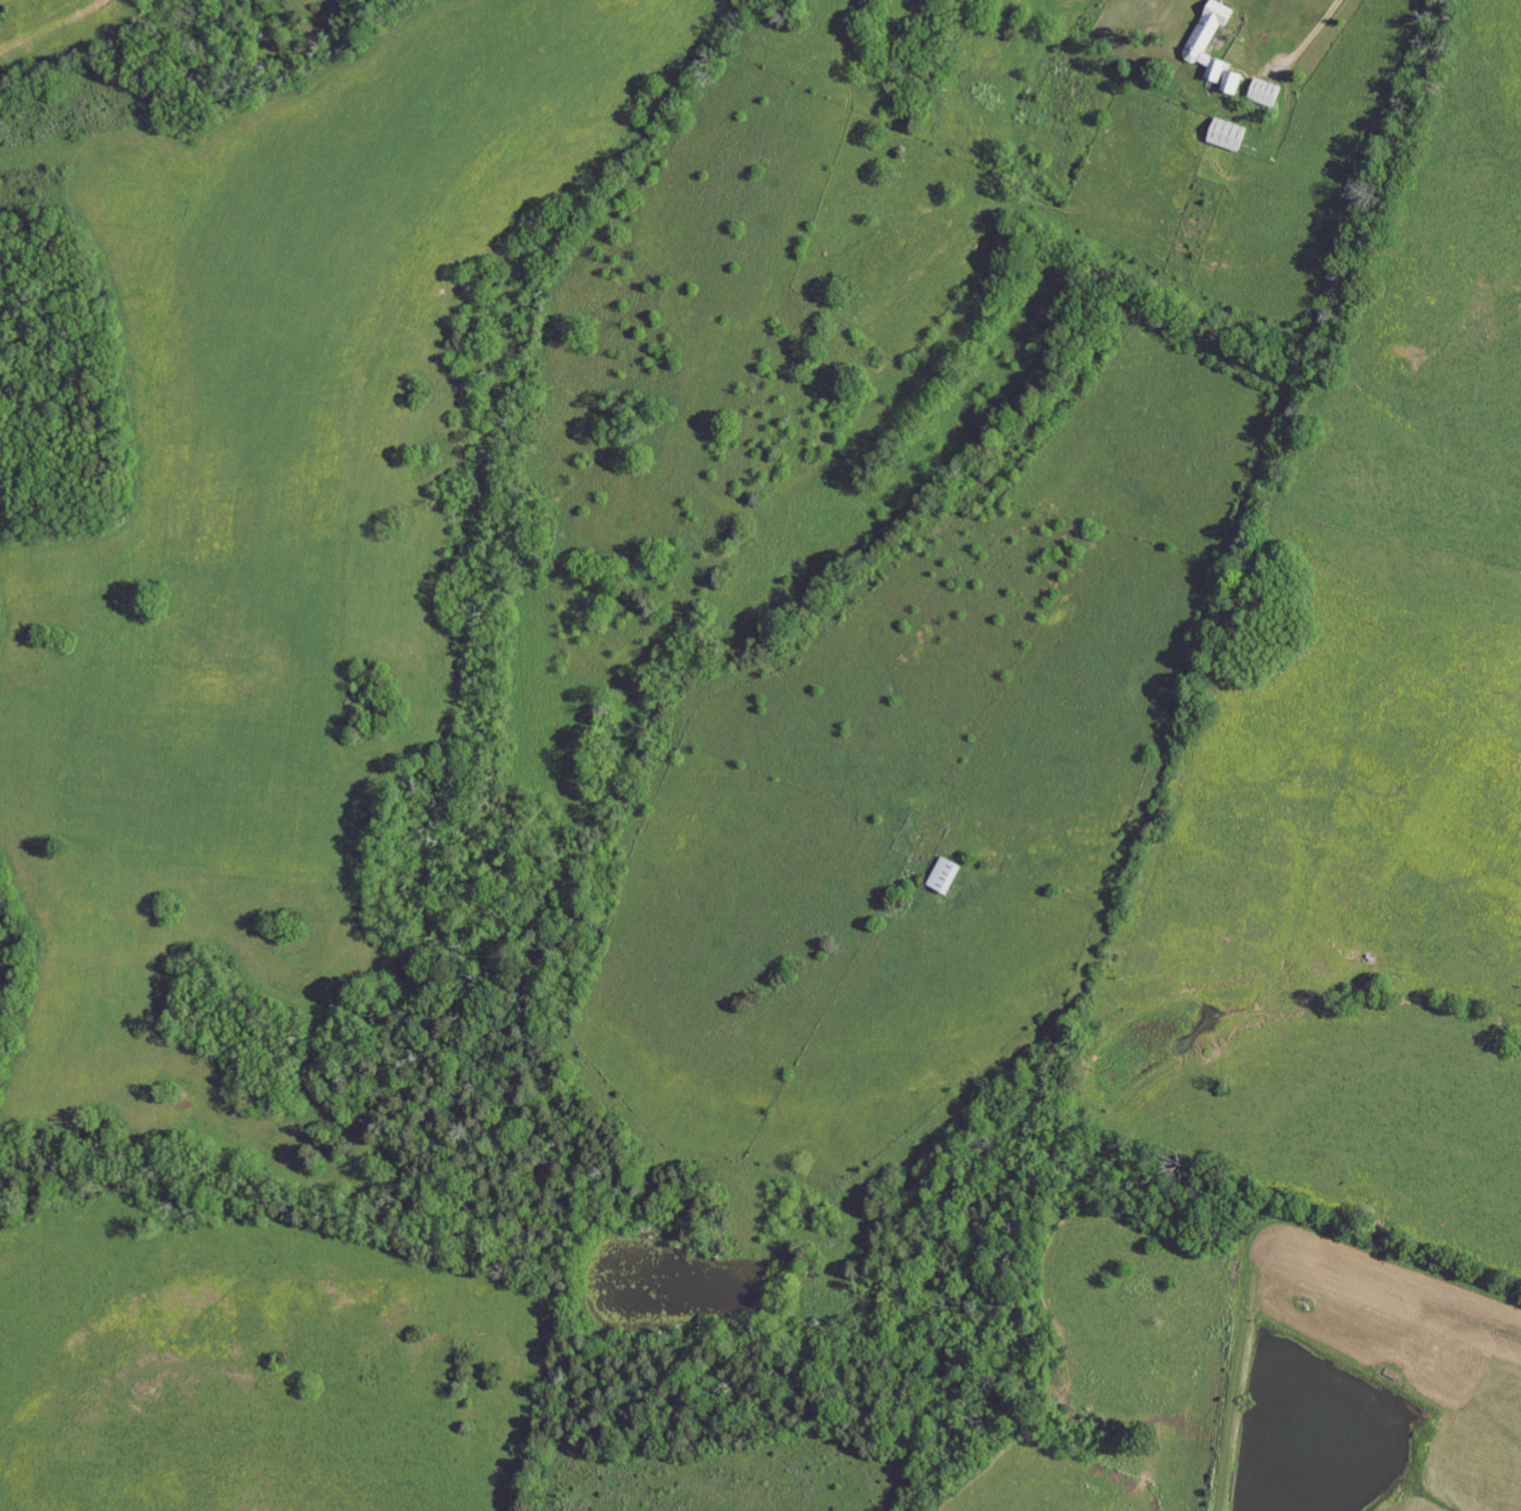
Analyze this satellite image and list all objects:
road: (1320, 29)
building: (1204, 39)
building: (1266, 91)
building: (1230, 134)

